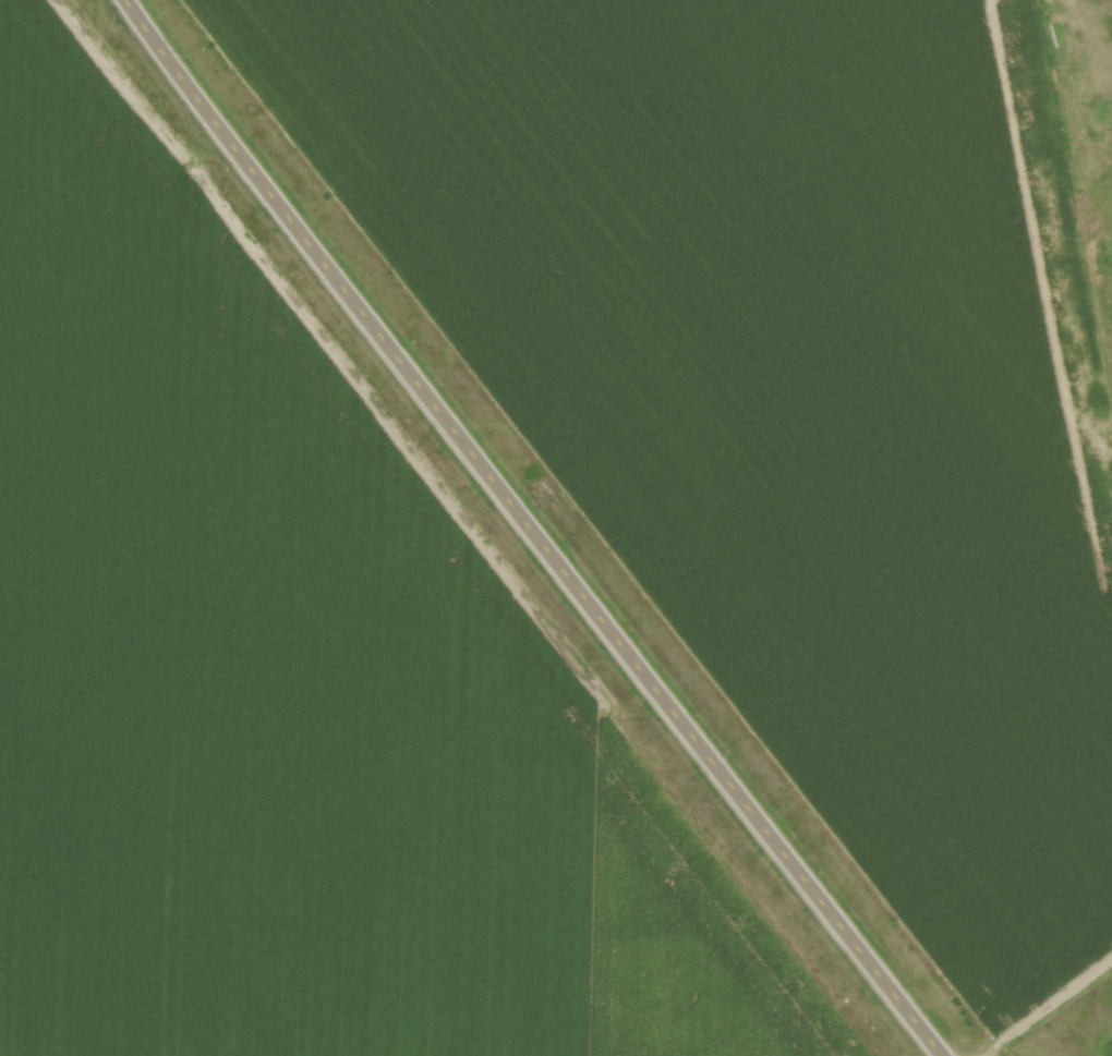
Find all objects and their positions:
road: (528, 531)

